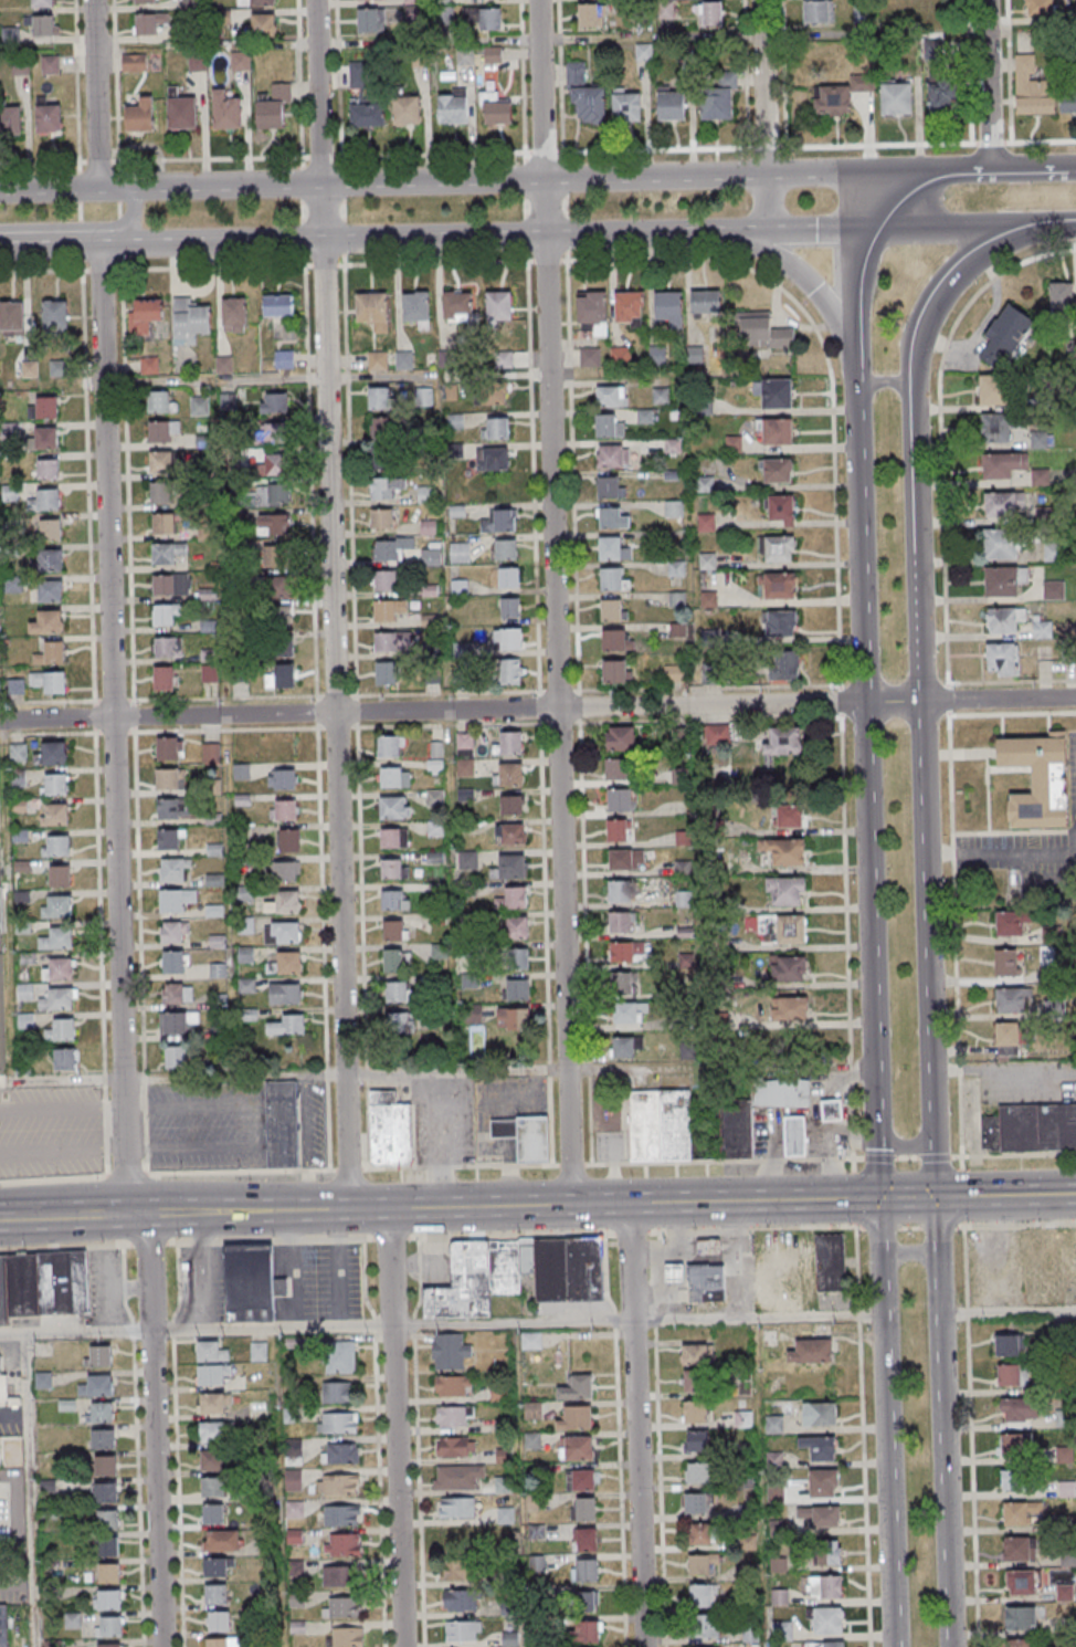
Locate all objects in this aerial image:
building: (145, 2)
building: (256, 2)
building: (43, 3)
building: (1041, 8)
building: (817, 11)
building: (709, 13)
building: (591, 14)
building: (484, 19)
building: (370, 21)
building: (42, 25)
building: (147, 25)
building: (263, 25)
building: (10, 35)
building: (493, 54)
building: (465, 57)
building: (198, 62)
building: (135, 63)
building: (358, 80)
building: (862, 83)
road: (987, 85)
building: (1033, 90)
road: (94, 94)
building: (586, 94)
building: (896, 98)
building: (832, 101)
building: (942, 102)
building: (716, 103)
building: (1068, 103)
building: (626, 104)
building: (671, 105)
building: (274, 106)
building: (453, 106)
building: (494, 108)
building: (226, 111)
building: (407, 111)
building: (182, 112)
building: (367, 114)
building: (140, 115)
road: (763, 115)
building: (49, 119)
building: (10, 120)
road: (43, 161)
road: (1033, 169)
road: (961, 170)
road: (515, 180)
road: (49, 189)
road: (903, 199)
road: (128, 222)
road: (1054, 227)
road: (954, 230)
road: (487, 238)
road: (50, 246)
road: (546, 256)
road: (434, 261)
road: (324, 263)
road: (213, 265)
road: (102, 269)
road: (43, 271)
road: (806, 284)
building: (1062, 294)
building: (706, 303)
building: (499, 304)
building: (277, 305)
building: (457, 305)
building: (667, 306)
building: (416, 307)
building: (629, 307)
building: (372, 311)
building: (593, 311)
building: (55, 314)
building: (146, 314)
building: (234, 314)
building: (12, 317)
building: (189, 321)
building: (767, 333)
building: (1005, 336)
building: (620, 356)
building: (657, 356)
building: (589, 357)
building: (284, 359)
building: (377, 360)
building: (403, 360)
road: (827, 364)
building: (30, 370)
road: (884, 381)
building: (995, 390)
building: (493, 394)
building: (777, 394)
building: (423, 396)
building: (611, 396)
building: (379, 398)
building: (228, 401)
building: (274, 402)
building: (159, 403)
building: (199, 406)
building: (45, 407)
building: (610, 424)
building: (382, 428)
building: (495, 428)
building: (996, 429)
building: (776, 431)
building: (161, 433)
building: (270, 433)
road: (915, 436)
building: (45, 438)
building: (1041, 439)
building: (613, 455)
building: (492, 459)
building: (383, 460)
building: (166, 463)
building: (275, 464)
building: (1001, 465)
building: (49, 469)
building: (778, 470)
building: (1040, 478)
road: (87, 483)
building: (705, 484)
building: (609, 486)
building: (386, 487)
building: (161, 494)
building: (275, 495)
building: (425, 495)
building: (46, 500)
building: (1002, 505)
building: (673, 508)
building: (782, 508)
building: (612, 517)
building: (382, 520)
building: (500, 521)
building: (163, 524)
building: (273, 524)
building: (51, 529)
building: (205, 531)
building: (1000, 544)
building: (611, 548)
building: (777, 548)
building: (505, 549)
building: (387, 550)
building: (1054, 552)
building: (167, 553)
building: (460, 553)
building: (275, 555)
building: (51, 560)
building: (508, 578)
building: (613, 579)
building: (1004, 580)
building: (386, 581)
building: (171, 585)
building: (777, 585)
building: (279, 587)
building: (1054, 589)
building: (430, 590)
building: (52, 591)
road: (553, 601)
road: (331, 604)
building: (509, 607)
building: (611, 609)
building: (388, 610)
building: (163, 615)
building: (281, 618)
building: (1004, 619)
building: (49, 622)
building: (781, 622)
building: (1042, 629)
building: (507, 639)
building: (613, 639)
building: (393, 642)
building: (281, 646)
building: (167, 648)
building: (52, 653)
building: (1001, 658)
building: (787, 665)
building: (614, 671)
building: (509, 673)
building: (386, 674)
building: (709, 674)
building: (210, 675)
building: (281, 676)
building: (162, 679)
road: (863, 680)
building: (48, 681)
building: (14, 686)
road: (838, 700)
road: (49, 701)
road: (538, 709)
road: (113, 731)
building: (717, 735)
building: (620, 738)
building: (464, 741)
building: (783, 742)
building: (510, 743)
building: (389, 746)
building: (171, 748)
building: (18, 752)
building: (211, 752)
building: (52, 753)
building: (435, 757)
building: (465, 767)
building: (615, 768)
building: (242, 770)
building: (509, 774)
building: (18, 777)
building: (394, 777)
building: (170, 779)
building: (282, 779)
building: (1038, 779)
building: (55, 784)
building: (435, 797)
building: (619, 800)
building: (511, 804)
building: (394, 807)
building: (173, 809)
building: (283, 809)
building: (55, 814)
building: (789, 816)
building: (616, 830)
building: (509, 833)
building: (393, 838)
building: (170, 840)
building: (288, 840)
building: (56, 845)
road: (1000, 850)
building: (784, 851)
building: (625, 859)
building: (509, 866)
building: (391, 868)
building: (173, 871)
building: (283, 871)
building: (61, 875)
building: (619, 891)
building: (787, 892)
building: (683, 898)
building: (513, 899)
building: (176, 900)
building: (395, 900)
building: (284, 902)
building: (59, 906)
road: (953, 909)
road: (926, 921)
building: (621, 922)
building: (1012, 922)
building: (516, 927)
building: (790, 930)
building: (394, 931)
building: (172, 932)
building: (282, 932)
building: (57, 938)
road: (846, 942)
building: (626, 952)
building: (245, 954)
road: (9, 955)
building: (519, 958)
building: (394, 959)
building: (175, 962)
building: (286, 962)
building: (1005, 962)
building: (788, 967)
building: (60, 969)
building: (218, 971)
building: (623, 983)
building: (247, 985)
building: (514, 988)
building: (398, 993)
building: (285, 994)
building: (176, 995)
building: (2, 998)
building: (59, 999)
building: (1010, 999)
building: (790, 1008)
building: (472, 1013)
building: (629, 1013)
building: (511, 1019)
building: (178, 1022)
building: (399, 1022)
building: (287, 1025)
building: (62, 1030)
building: (1006, 1039)
building: (625, 1046)
building: (176, 1058)
building: (65, 1059)
road: (1003, 1070)
road: (411, 1073)
building: (777, 1092)
building: (831, 1112)
building: (282, 1124)
building: (685, 1127)
building: (1031, 1127)
parking lot: (50, 1129)
building: (389, 1131)
building: (793, 1136)
building: (535, 1139)
building: (505, 1141)
road: (903, 1144)
road: (537, 1164)
road: (877, 1164)
road: (933, 1169)
road: (1005, 1196)
road: (906, 1197)
traffic signals: (935, 1197)
traffic signals: (878, 1198)
road: (449, 1206)
road: (10, 1219)
road: (936, 1230)
road: (879, 1231)
building: (707, 1248)
road: (908, 1250)
road: (685, 1258)
road: (739, 1259)
building: (1058, 1260)
building: (800, 1266)
building: (518, 1273)
building: (673, 1276)
building: (251, 1283)
building: (705, 1283)
building: (43, 1284)
road: (1008, 1310)
road: (757, 1316)
road: (511, 1323)
road: (272, 1328)
road: (75, 1330)
building: (530, 1340)
building: (1009, 1345)
building: (211, 1351)
building: (450, 1351)
building: (812, 1351)
building: (694, 1354)
building: (101, 1355)
building: (340, 1358)
building: (1013, 1374)
building: (212, 1375)
building: (695, 1381)
building: (452, 1385)
building: (97, 1386)
building: (576, 1387)
building: (7, 1392)
building: (340, 1393)
building: (213, 1404)
building: (1021, 1409)
building: (532, 1410)
building: (695, 1412)
building: (101, 1413)
building: (819, 1414)
building: (453, 1415)
building: (576, 1418)
building: (1064, 1418)
building: (338, 1423)
road: (635, 1425)
road: (394, 1427)
road: (155, 1430)
building: (212, 1433)
building: (103, 1439)
building: (697, 1440)
building: (1015, 1444)
building: (455, 1447)
building: (576, 1447)
building: (820, 1447)
building: (0, 1451)
building: (341, 1454)
building: (504, 1455)
road: (943, 1455)
road: (887, 1456)
road: (759, 1457)
building: (211, 1460)
building: (105, 1467)
building: (698, 1472)
building: (457, 1477)
building: (580, 1479)
building: (1015, 1479)
building: (824, 1482)
building: (338, 1486)
building: (213, 1487)
road: (28, 1489)
building: (103, 1493)
building: (695, 1502)
building: (457, 1507)
building: (586, 1508)
building: (1020, 1511)
building: (213, 1513)
building: (820, 1515)
building: (341, 1517)
building: (107, 1520)
building: (700, 1533)
building: (583, 1539)
building: (221, 1540)
building: (342, 1545)
building: (107, 1546)
building: (1019, 1549)
building: (829, 1553)
building: (701, 1563)
building: (215, 1566)
building: (584, 1570)
building: (457, 1571)
building: (109, 1572)
building: (748, 1572)
building: (337, 1577)
building: (1022, 1582)
building: (825, 1587)
building: (217, 1595)
building: (701, 1595)
building: (107, 1599)
building: (461, 1602)
building: (583, 1602)
building: (344, 1607)
building: (1021, 1617)
building: (826, 1622)
building: (219, 1623)
building: (109, 1626)
building: (705, 1626)
building: (3, 1627)
building: (463, 1632)
building: (587, 1632)
building: (782, 1632)
building: (347, 1637)
building: (218, 1643)
building: (1019, 1643)
building: (106, 1645)
building: (824, 1645)

